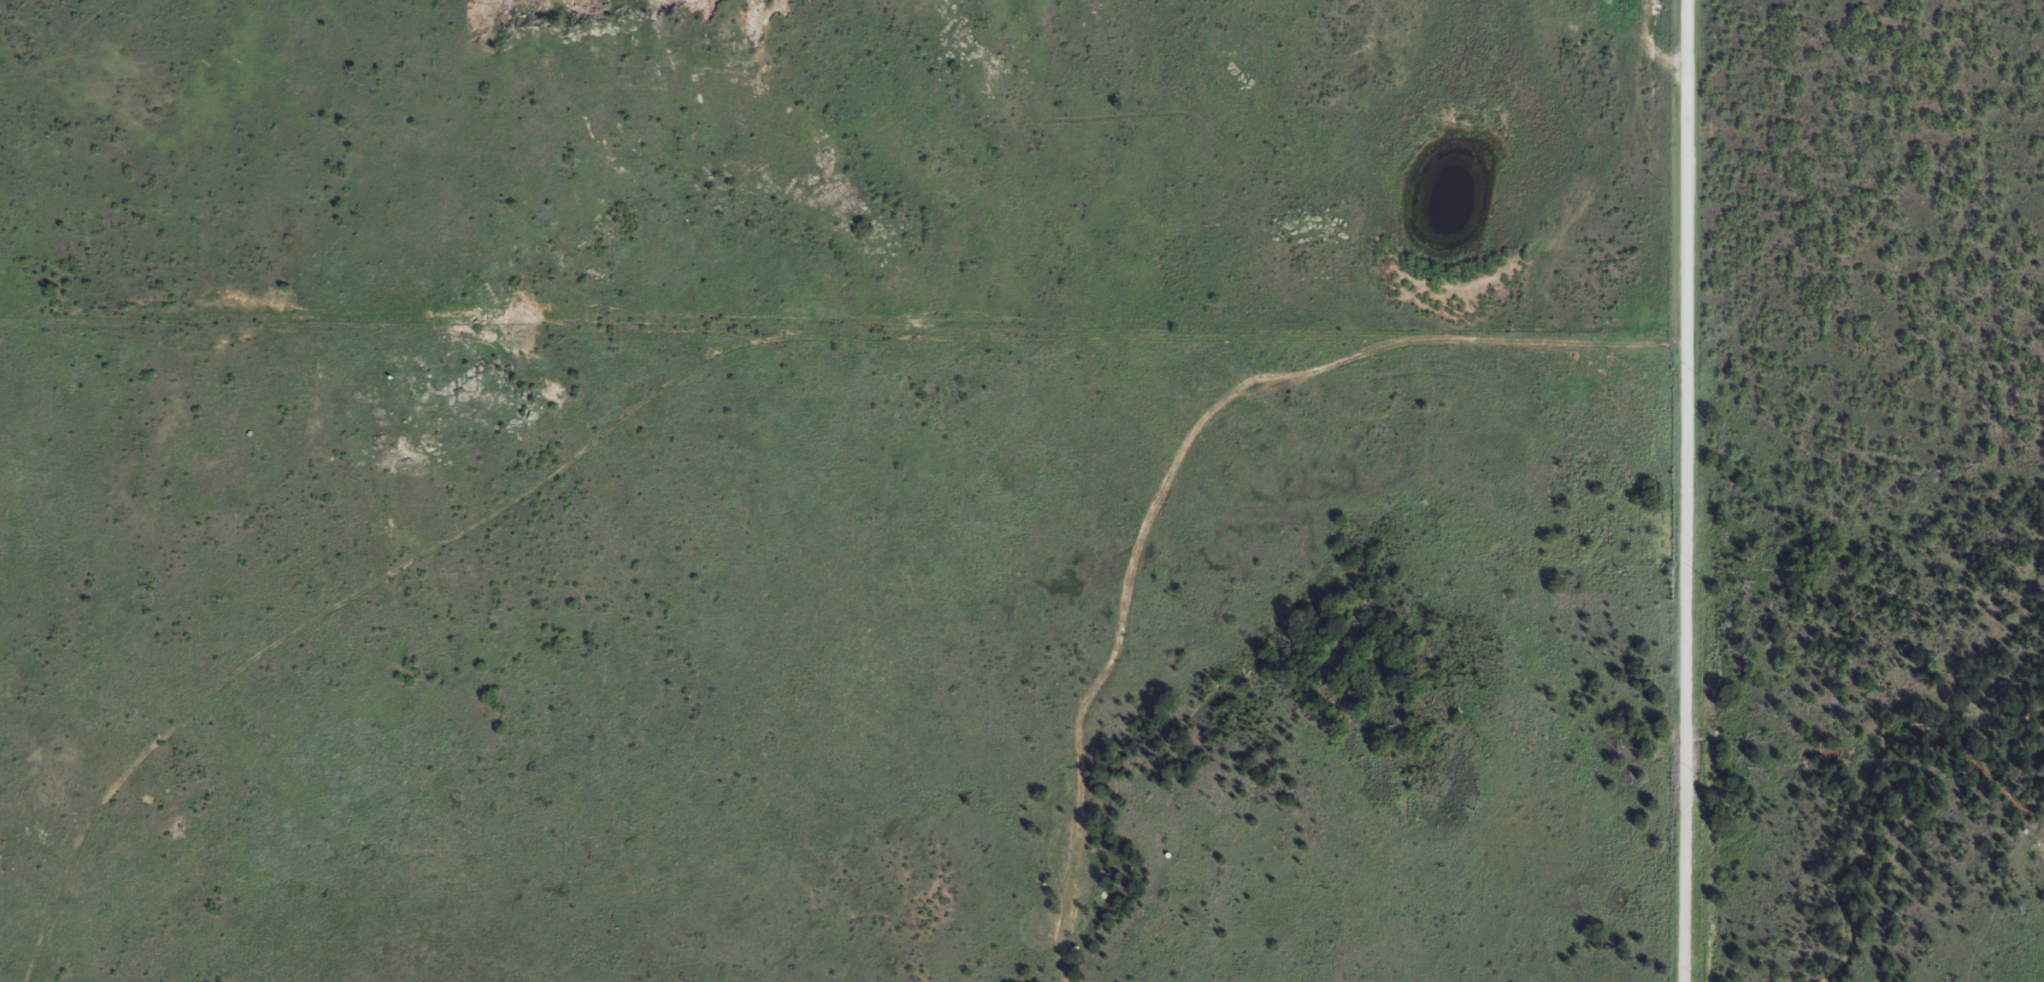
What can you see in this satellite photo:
road: (1689, 491)

